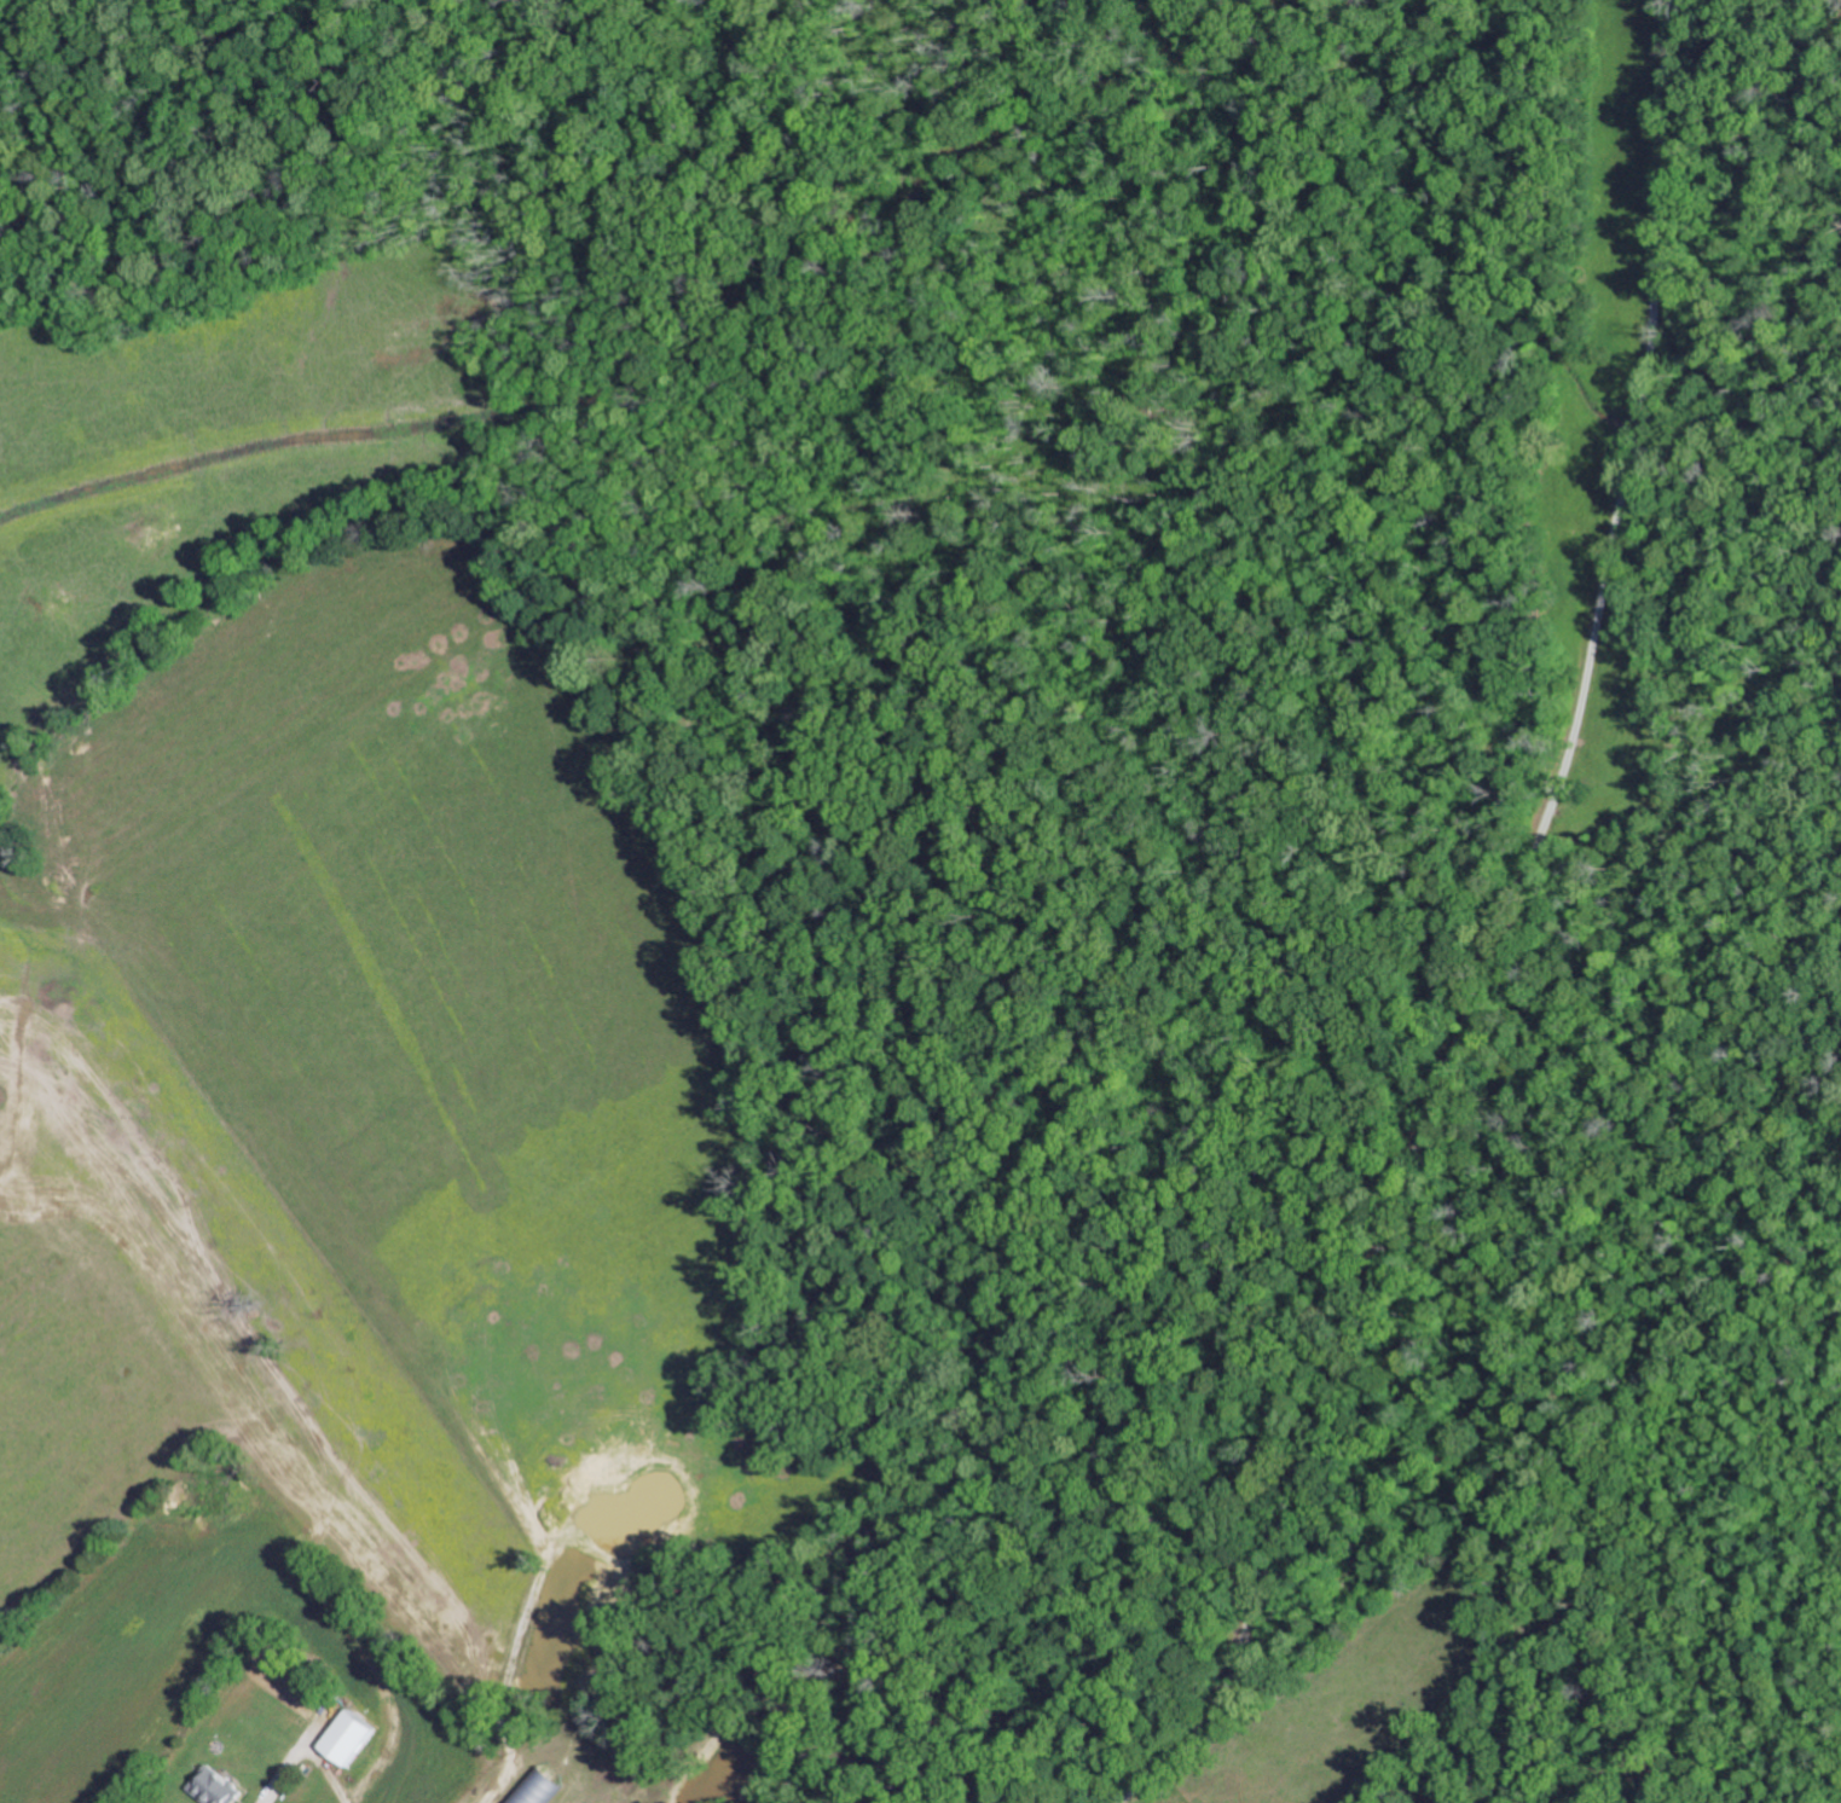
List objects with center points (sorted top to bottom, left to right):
road: (1495, 937)
building: (345, 1739)
building: (210, 1787)

